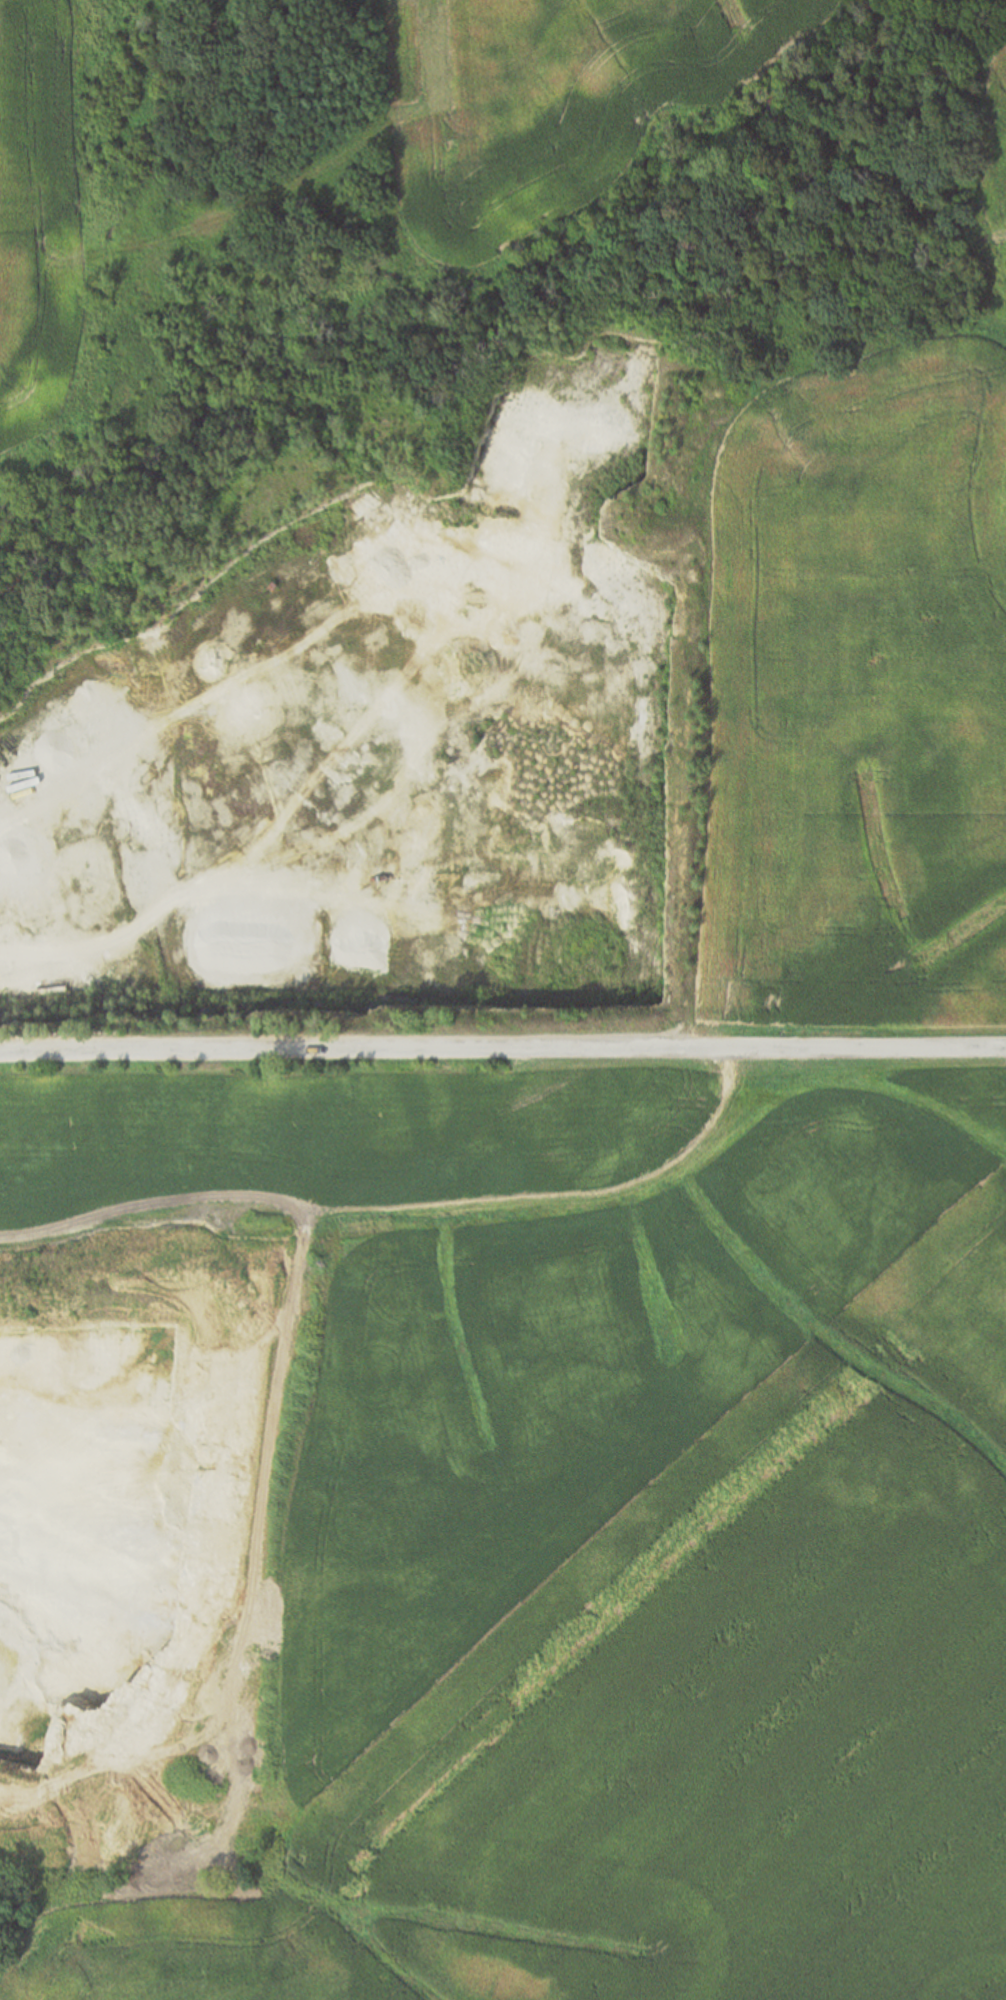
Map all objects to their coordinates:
road: (502, 1048)

